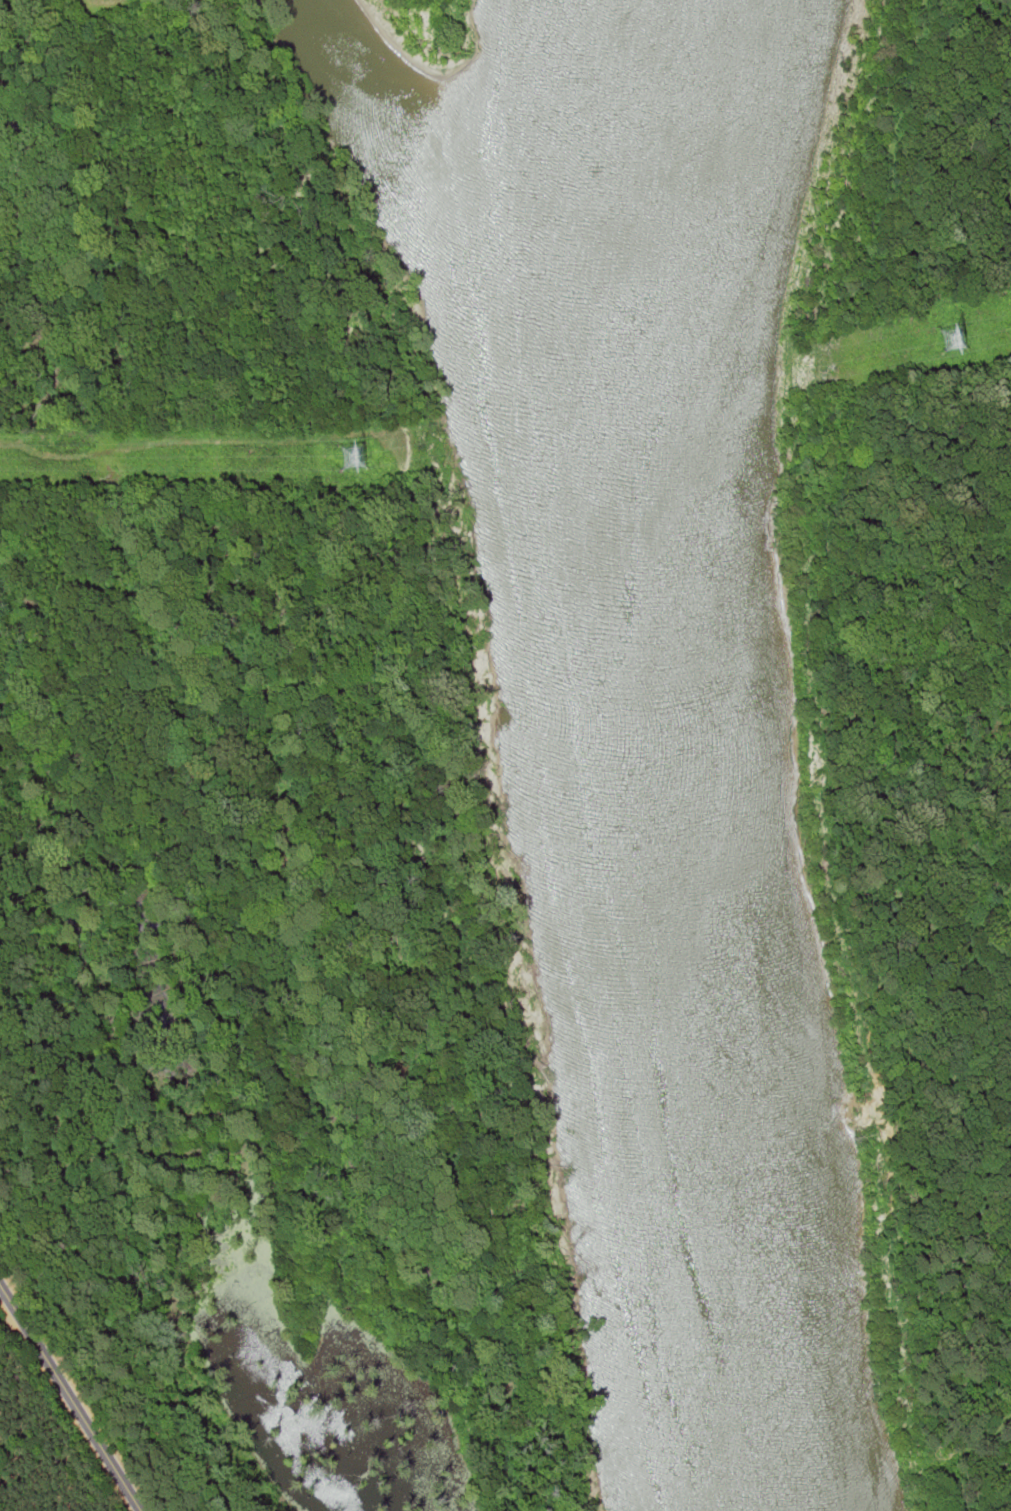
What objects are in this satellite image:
road: (68, 1395)

